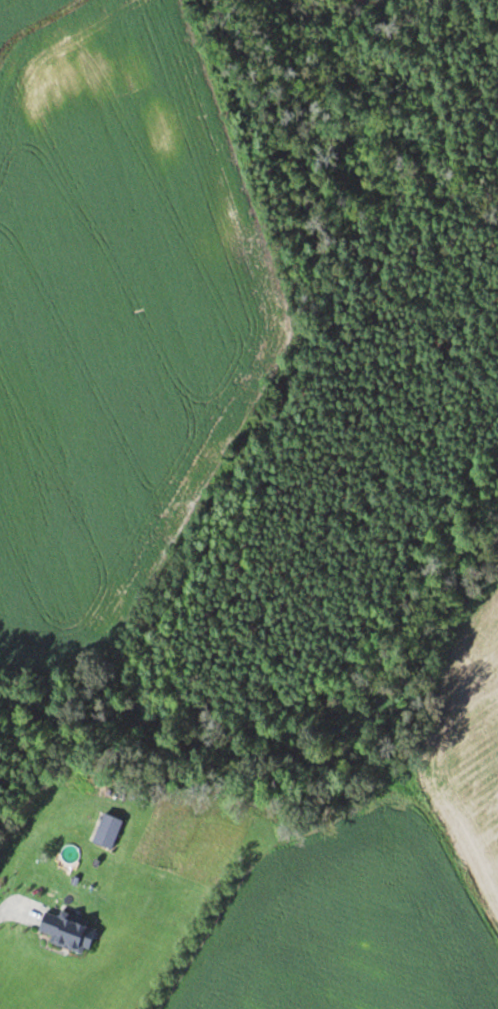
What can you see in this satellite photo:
building: (112, 832)
building: (67, 930)

